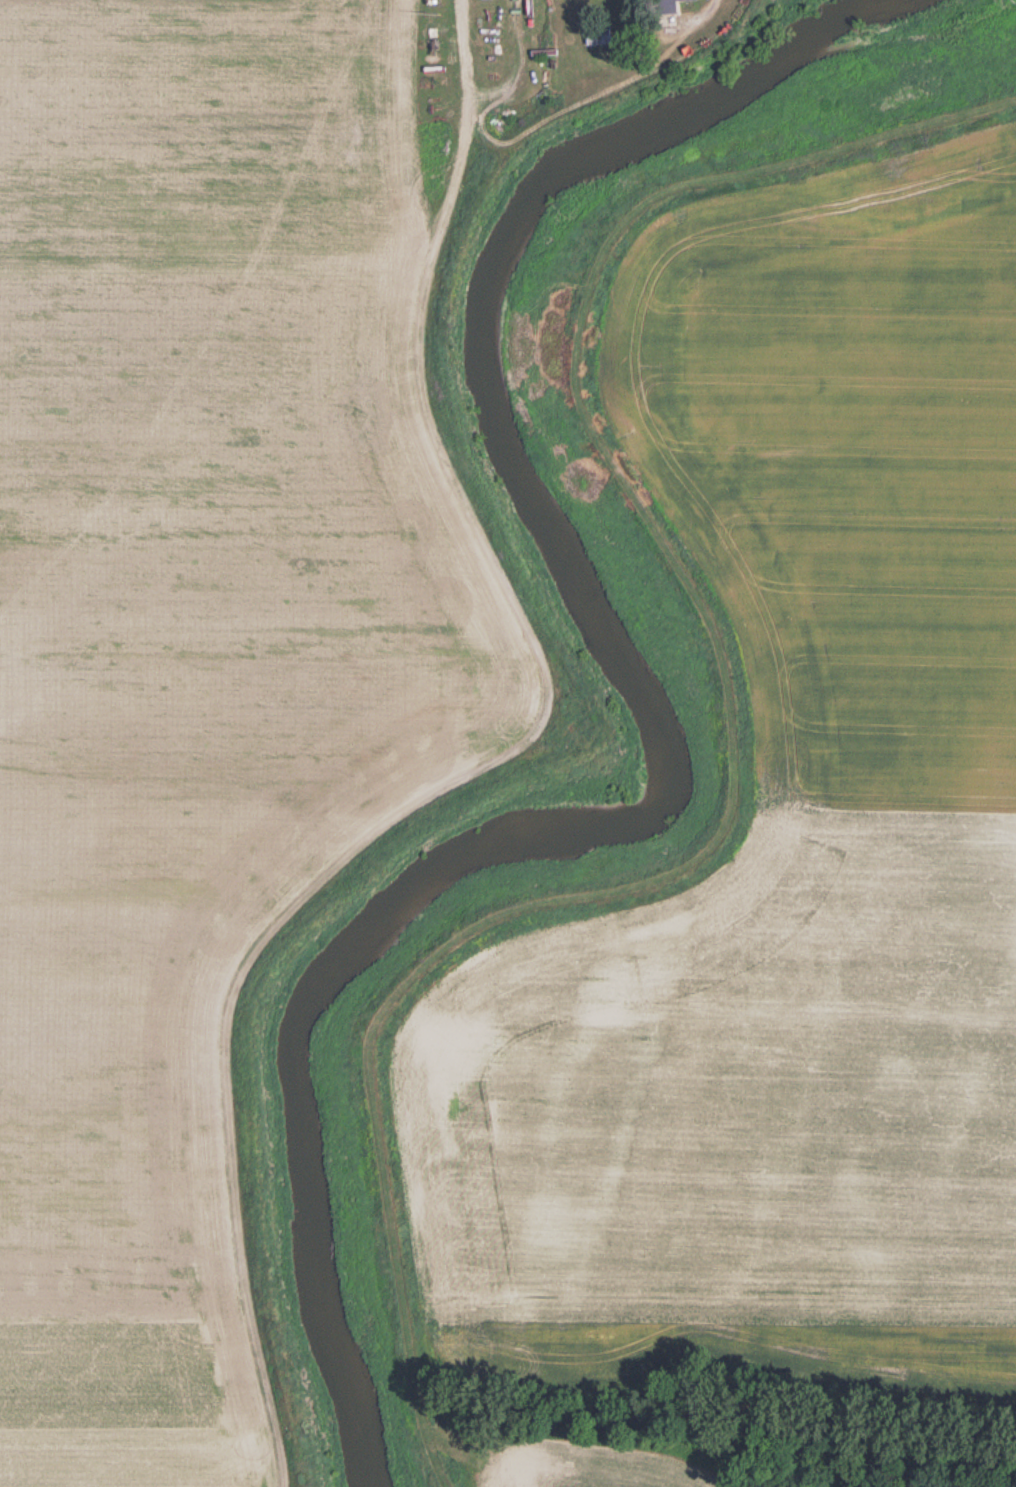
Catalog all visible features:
building: (684, 0)
building: (661, 7)
building: (590, 38)
river: (660, 735)
road: (484, 771)

